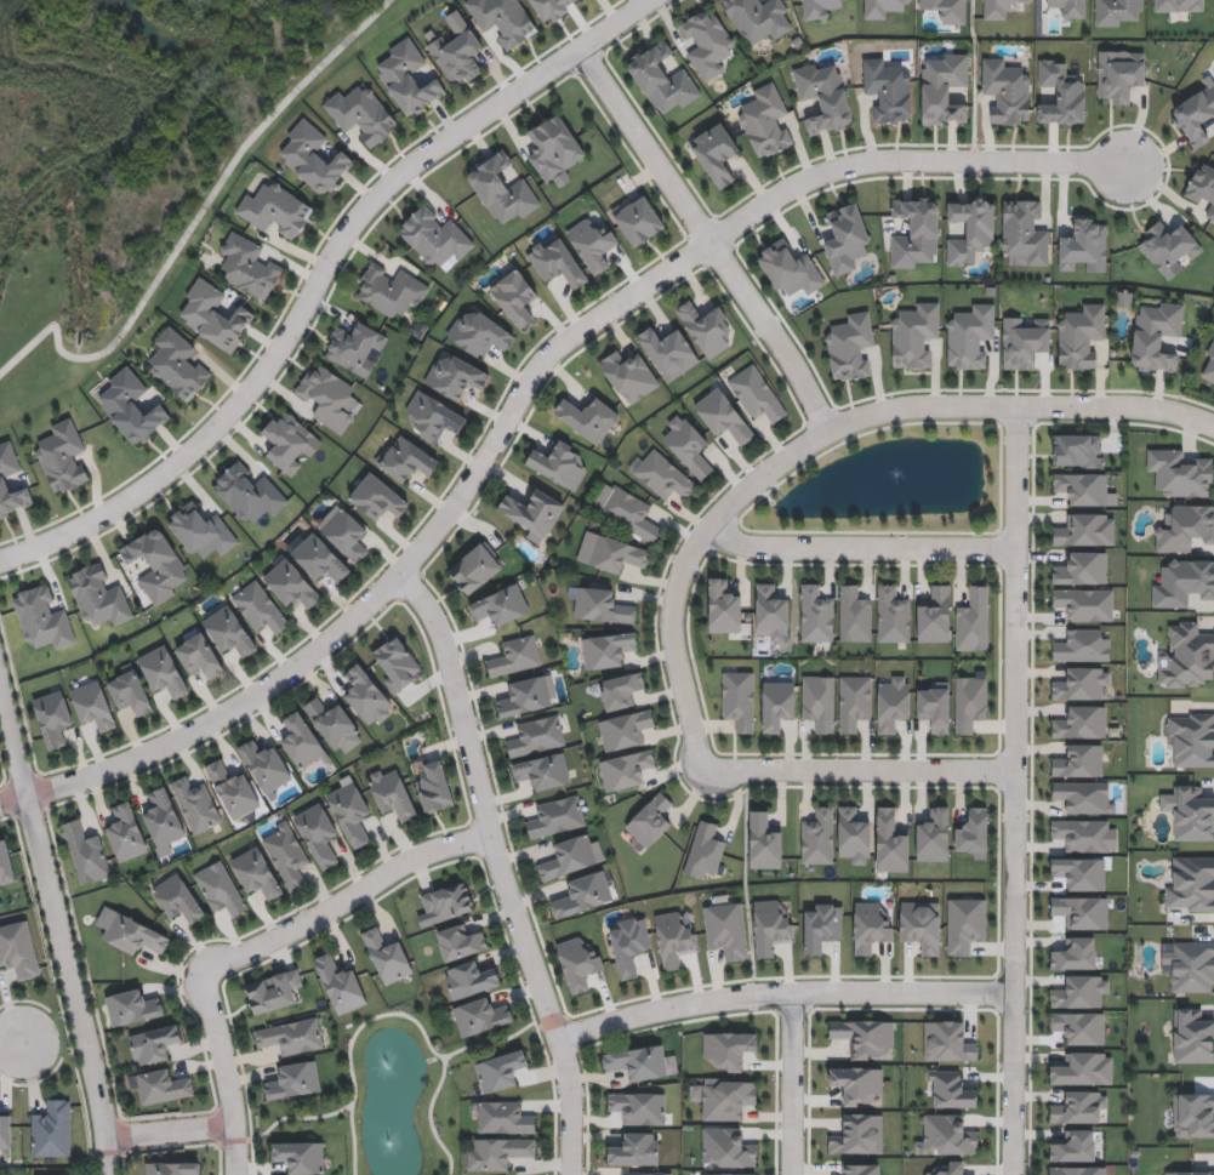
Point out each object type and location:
building: (1179, 5)
building: (1068, 6)
building: (817, 7)
building: (880, 7)
building: (1001, 7)
building: (553, 8)
building: (946, 8)
building: (1116, 11)
building: (757, 17)
building: (503, 19)
building: (707, 42)
building: (457, 53)
building: (1119, 74)
building: (407, 76)
building: (661, 79)
building: (944, 87)
building: (888, 89)
building: (1007, 90)
building: (1060, 93)
building: (822, 96)
building: (361, 113)
building: (1195, 115)
building: (765, 121)
building: (553, 148)
building: (716, 153)
building: (314, 156)
road: (906, 162)
building: (1203, 187)
building: (501, 188)
building: (275, 209)
building: (638, 218)
road: (192, 228)
building: (970, 228)
building: (914, 230)
building: (1024, 232)
building: (433, 236)
building: (845, 236)
road: (709, 238)
building: (592, 244)
building: (1083, 245)
building: (1168, 246)
building: (557, 262)
building: (247, 266)
building: (790, 268)
road: (319, 279)
building: (391, 290)
building: (514, 296)
building: (215, 315)
building: (705, 326)
building: (479, 333)
building: (914, 335)
building: (969, 335)
building: (1081, 336)
building: (1156, 336)
building: (1024, 341)
building: (849, 346)
building: (354, 347)
building: (667, 350)
building: (178, 365)
building: (1208, 366)
building: (628, 375)
building: (455, 376)
building: (756, 393)
building: (329, 397)
building: (131, 406)
building: (432, 416)
building: (587, 416)
building: (723, 416)
road: (820, 435)
building: (289, 441)
building: (688, 445)
building: (1077, 451)
building: (62, 456)
building: (405, 458)
building: (558, 463)
building: (1180, 472)
building: (663, 475)
building: (2, 479)
building: (1082, 487)
building: (249, 494)
building: (377, 497)
building: (626, 511)
building: (532, 512)
building: (1185, 526)
building: (1085, 529)
building: (201, 530)
building: (346, 534)
road: (862, 546)
building: (616, 554)
building: (318, 557)
building: (154, 563)
building: (1081, 566)
building: (475, 567)
road: (399, 576)
building: (1184, 582)
building: (290, 583)
building: (98, 594)
building: (1085, 603)
building: (598, 604)
building: (500, 605)
building: (723, 605)
building: (260, 608)
building: (771, 612)
building: (815, 612)
building: (854, 614)
building: (893, 614)
building: (934, 614)
building: (42, 617)
building: (973, 618)
building: (229, 632)
building: (1082, 645)
building: (608, 649)
building: (199, 656)
building: (514, 656)
building: (1187, 656)
building: (395, 663)
building: (163, 672)
building: (1082, 683)
building: (621, 690)
building: (130, 692)
building: (366, 695)
building: (524, 695)
building: (739, 700)
building: (819, 701)
building: (854, 701)
building: (969, 702)
building: (92, 703)
building: (893, 703)
building: (777, 705)
building: (934, 707)
building: (53, 718)
building: (1081, 721)
building: (334, 724)
building: (625, 729)
building: (536, 735)
building: (1191, 738)
building: (301, 740)
building: (1078, 760)
building: (264, 764)
building: (626, 769)
building: (542, 771)
road: (861, 771)
building: (434, 787)
building: (233, 789)
road: (1014, 791)
building: (1084, 795)
building: (195, 803)
building: (349, 810)
building: (1190, 811)
building: (554, 816)
building: (163, 817)
building: (650, 820)
building: (125, 832)
building: (318, 833)
building: (971, 833)
building: (854, 834)
building: (933, 834)
building: (1085, 834)
building: (817, 835)
building: (764, 839)
building: (890, 840)
building: (703, 850)
building: (86, 852)
building: (286, 854)
building: (571, 856)
building: (6, 867)
road: (500, 871)
building: (256, 873)
building: (1079, 873)
building: (1191, 884)
building: (220, 888)
building: (583, 894)
building: (177, 899)
road: (346, 899)
building: (446, 902)
building: (1082, 911)
building: (822, 923)
building: (965, 924)
building: (771, 925)
building: (871, 925)
building: (725, 929)
road: (59, 931)
building: (133, 935)
building: (674, 937)
building: (460, 941)
building: (629, 945)
building: (18, 949)
building: (1076, 952)
building: (386, 954)
building: (578, 962)
building: (1192, 966)
building: (469, 979)
building: (340, 983)
building: (273, 991)
building: (1081, 991)
road: (782, 993)
building: (132, 1006)
building: (480, 1015)
building: (1079, 1026)
building: (291, 1036)
building: (1192, 1036)
building: (866, 1037)
building: (947, 1040)
building: (155, 1043)
road: (12, 1048)
building: (729, 1048)
building: (637, 1061)
building: (1083, 1068)
building: (500, 1070)
road: (228, 1072)
building: (293, 1079)
road: (792, 1083)
building: (856, 1084)
building: (160, 1085)
building: (950, 1089)
building: (728, 1097)
building: (638, 1107)
building: (1081, 1107)
building: (1193, 1114)
building: (503, 1117)
building: (5, 1130)
building: (51, 1131)
road: (171, 1133)
building: (859, 1134)
building: (947, 1134)
building: (1075, 1145)
building: (726, 1147)
building: (633, 1148)
building: (497, 1152)
building: (298, 1157)
building: (948, 1167)
building: (172, 1168)
building: (860, 1169)
building: (1078, 1170)
building: (644, 1173)
building: (1189, 1173)
building: (729, 1174)

